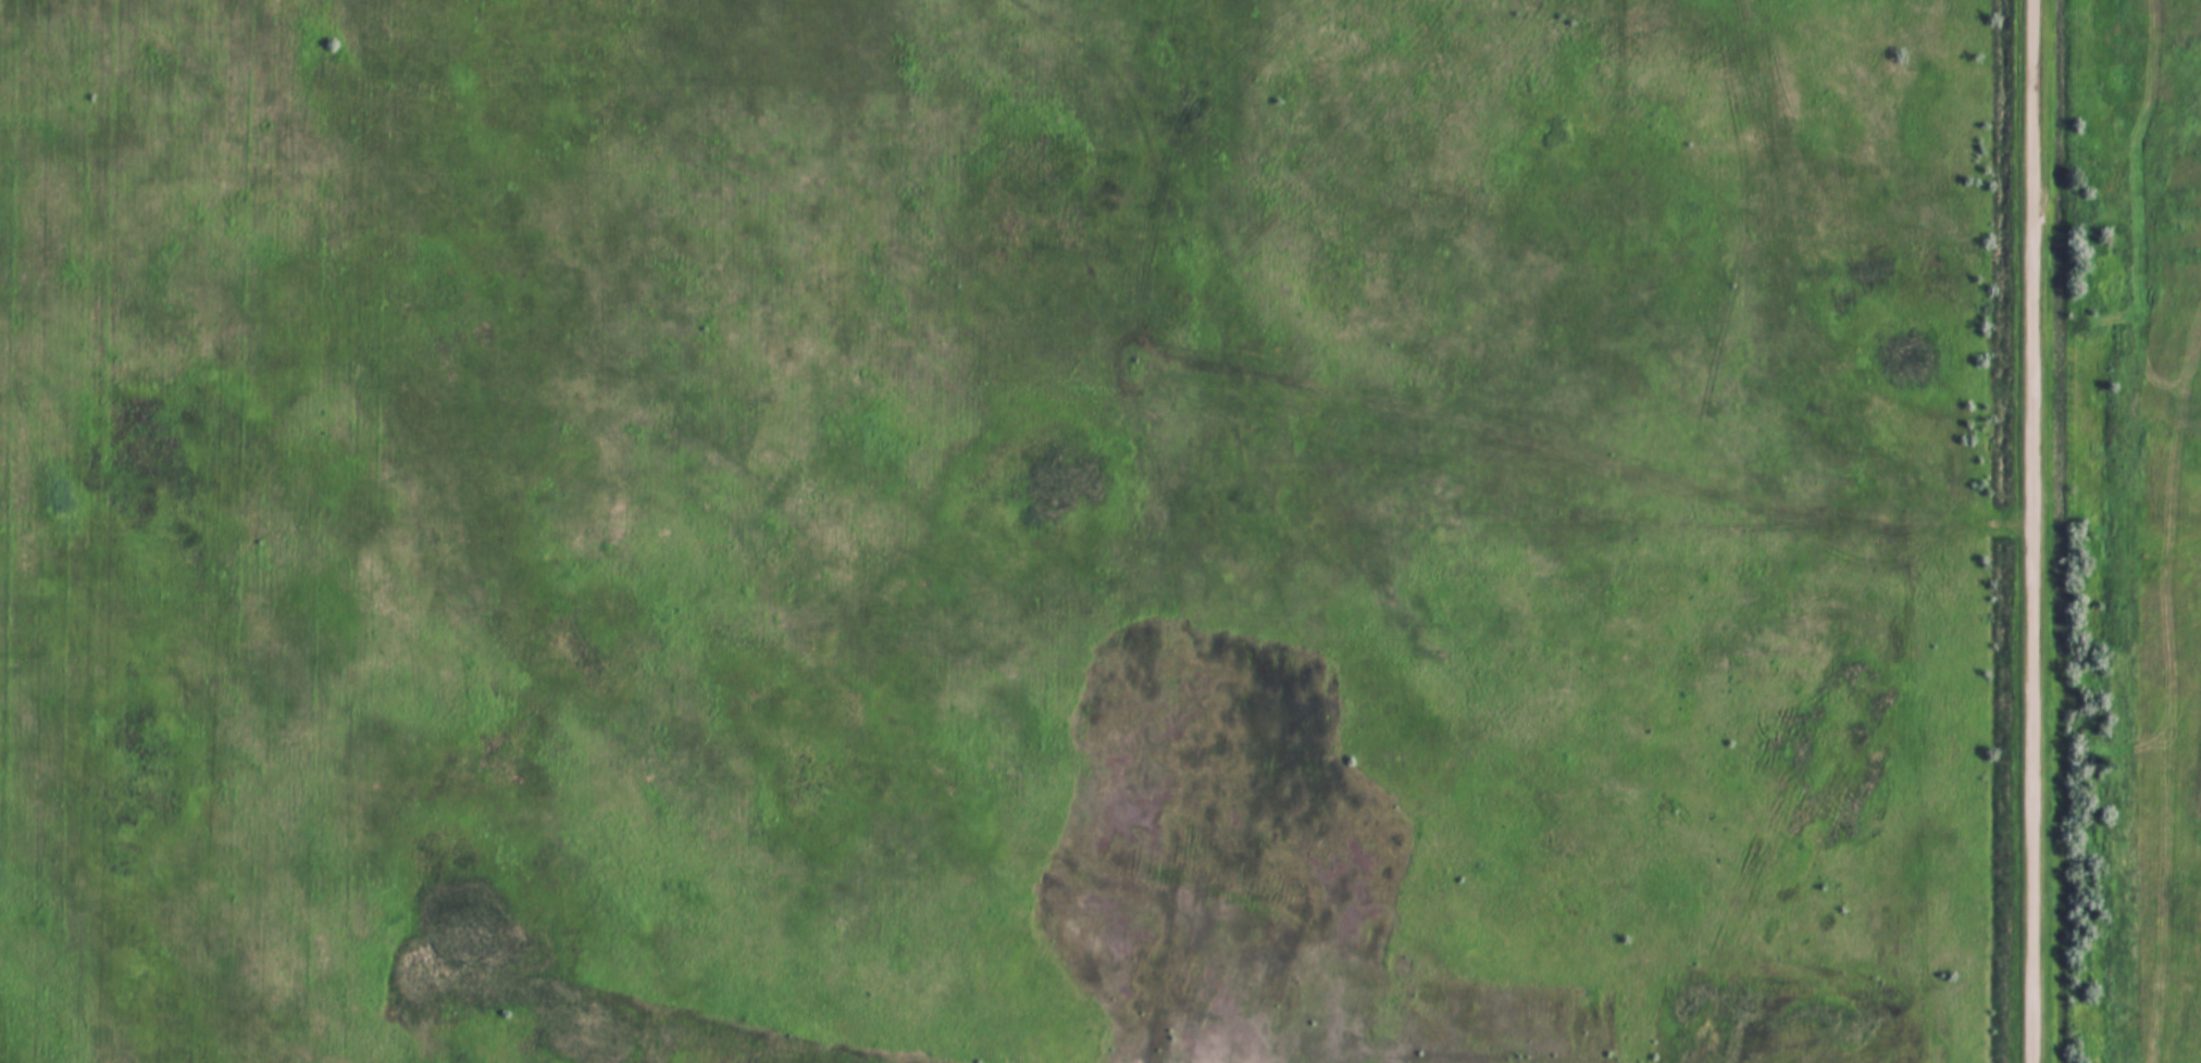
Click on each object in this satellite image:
airport: (1004, 531)
road: (2037, 531)

